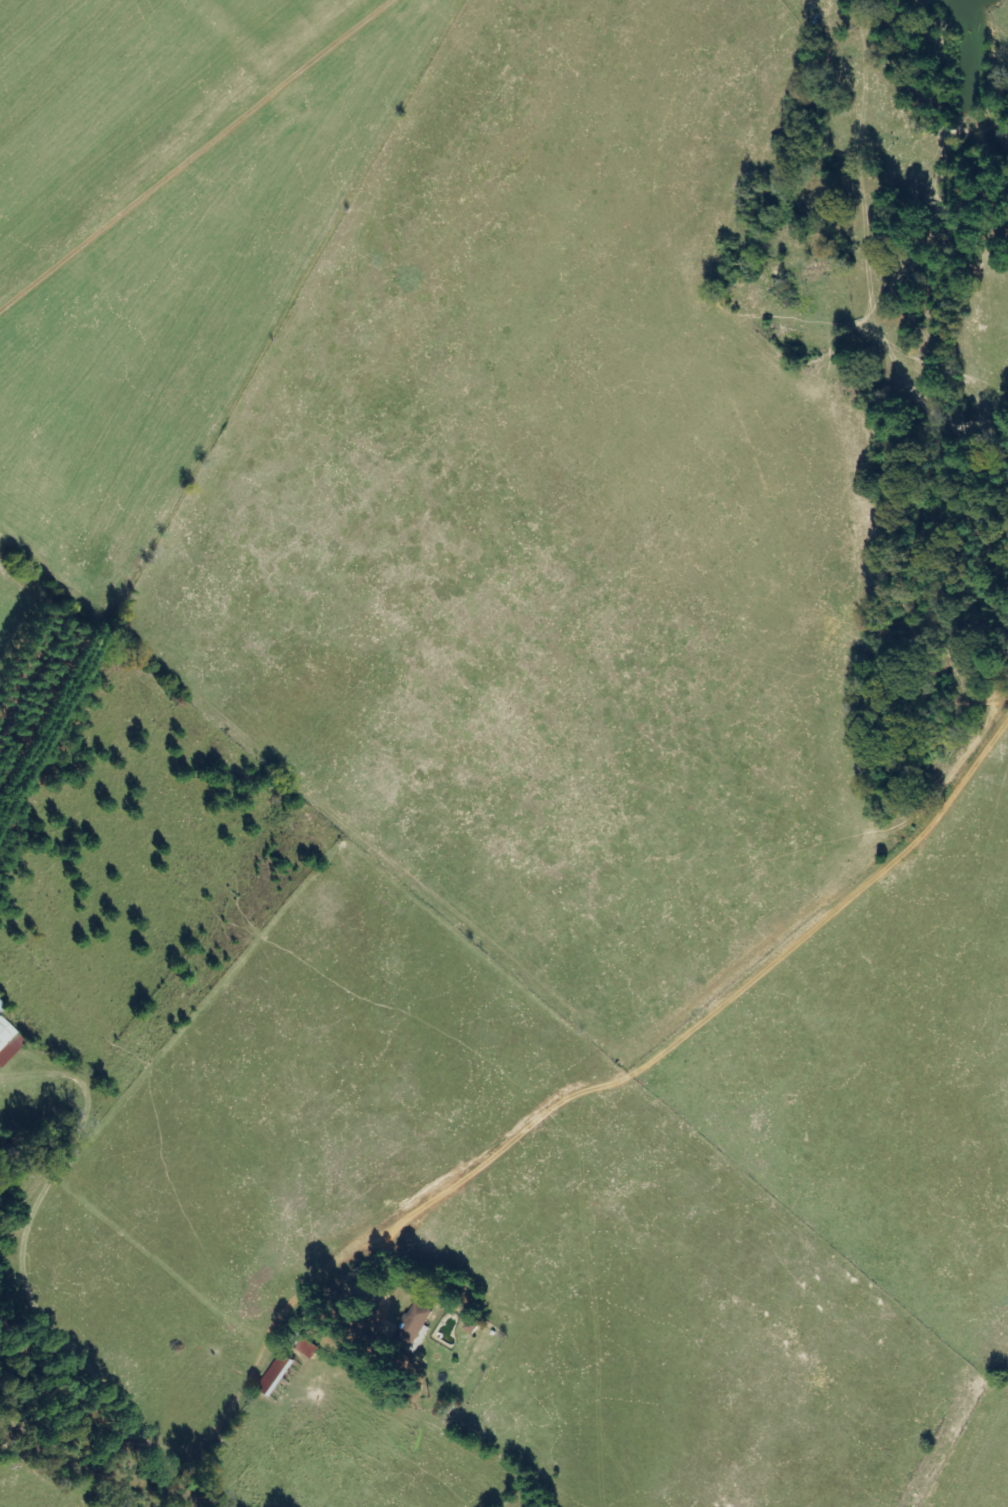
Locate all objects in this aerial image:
building: (416, 1323)
building: (276, 1374)

